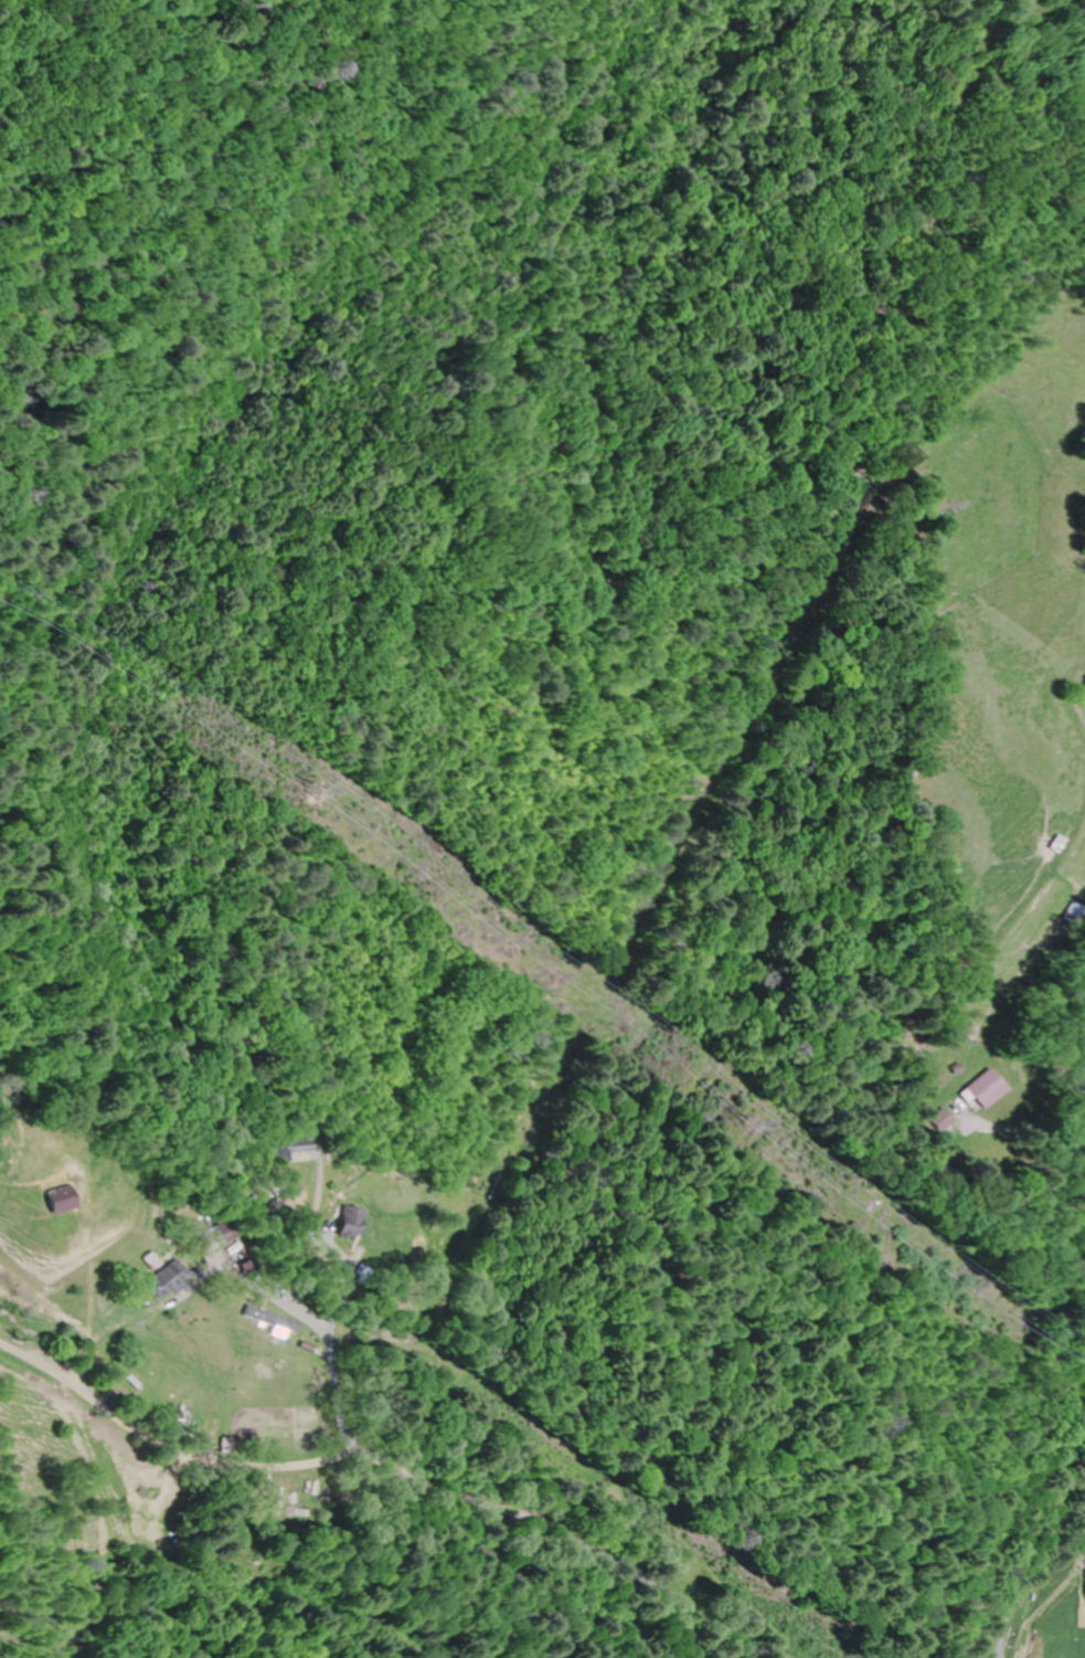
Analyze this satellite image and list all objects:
road: (329, 1345)
road: (396, 1467)
road: (1032, 1550)

